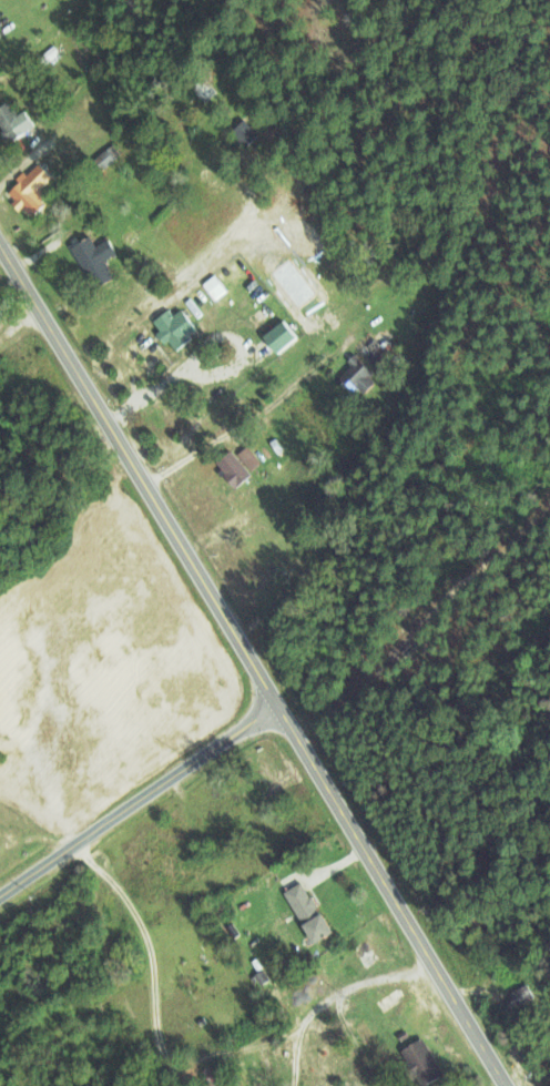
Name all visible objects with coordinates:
building: (131, 10)
building: (200, 84)
building: (12, 121)
building: (243, 132)
building: (104, 158)
building: (27, 190)
building: (92, 258)
building: (213, 286)
building: (172, 327)
building: (277, 336)
building: (373, 353)
building: (354, 376)
building: (37, 441)
building: (230, 468)
building: (284, 471)
road: (254, 660)
road: (140, 799)
building: (304, 911)
building: (363, 952)
road: (154, 953)
road: (115, 963)
building: (192, 974)
road: (365, 983)
building: (518, 995)
building: (387, 999)
road: (354, 1041)
road: (241, 1048)
road: (299, 1053)
building: (418, 1063)
building: (214, 1075)

